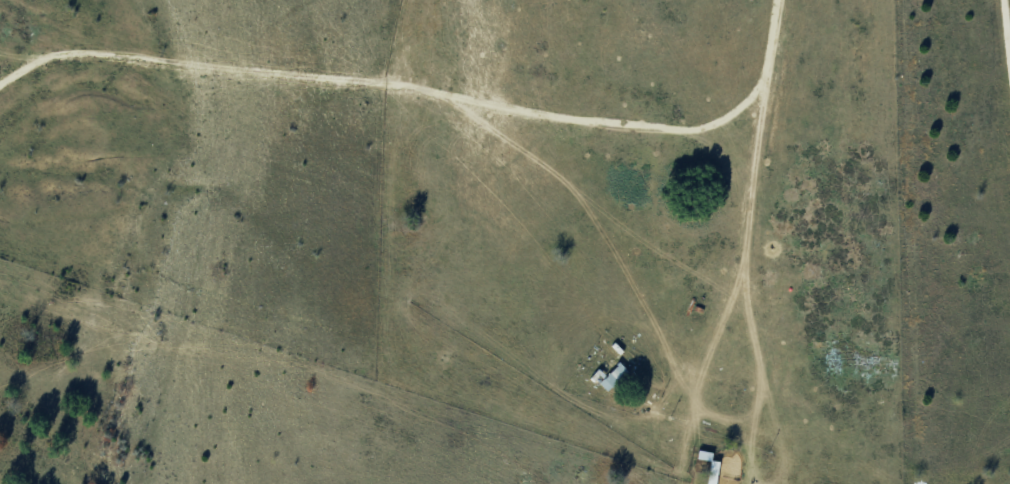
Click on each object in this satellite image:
road: (834, 126)
road: (794, 281)
building: (615, 375)

